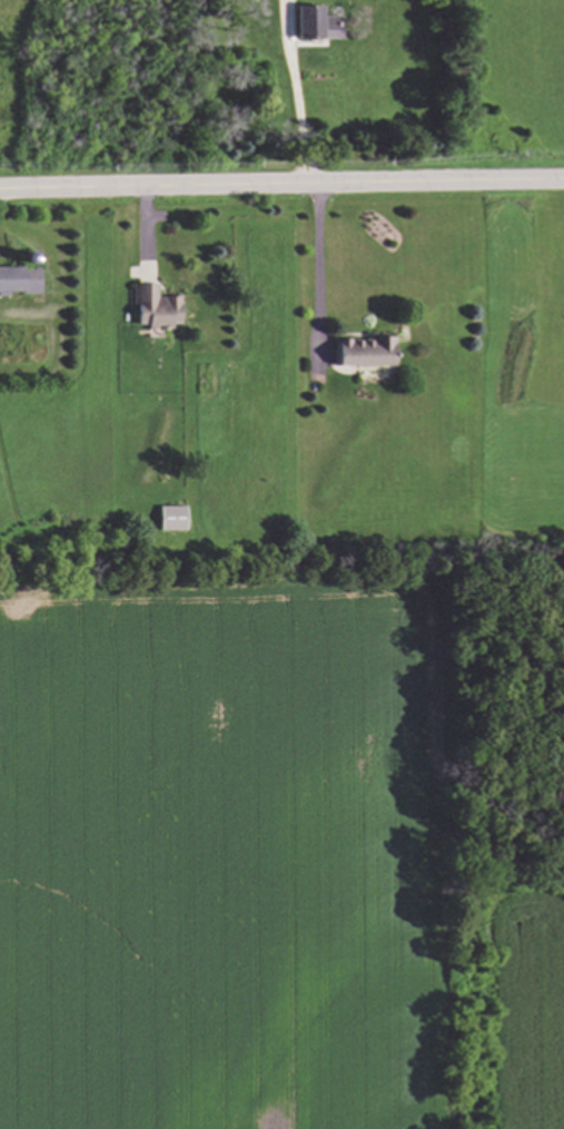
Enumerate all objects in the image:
building: (315, 26)
road: (291, 94)
road: (281, 188)
road: (315, 265)
building: (19, 282)
building: (152, 311)
building: (362, 353)
building: (170, 518)

